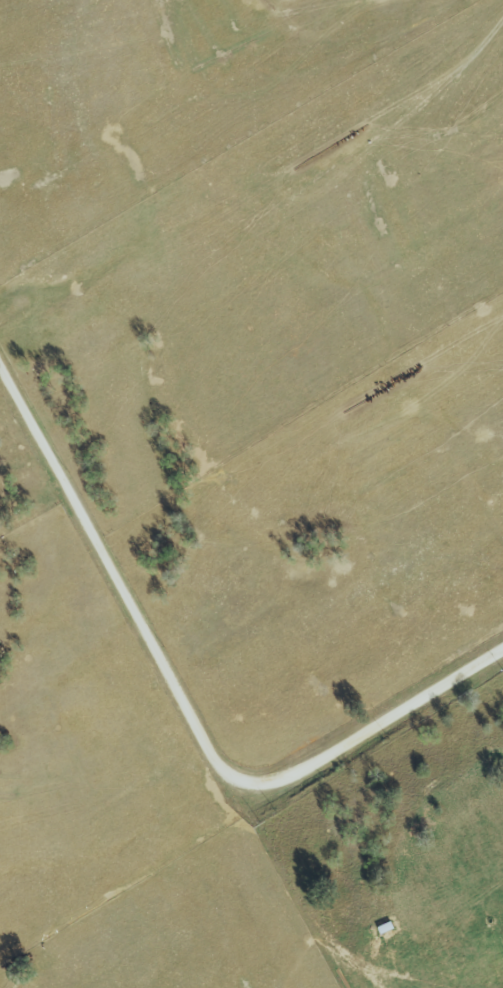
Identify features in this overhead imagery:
road: (188, 697)

